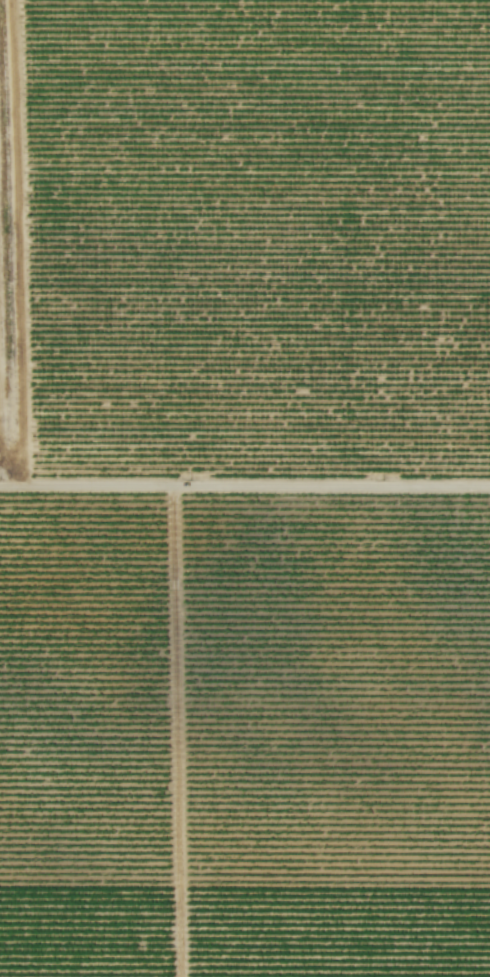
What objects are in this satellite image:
road: (245, 484)
crop: (245, 488)

